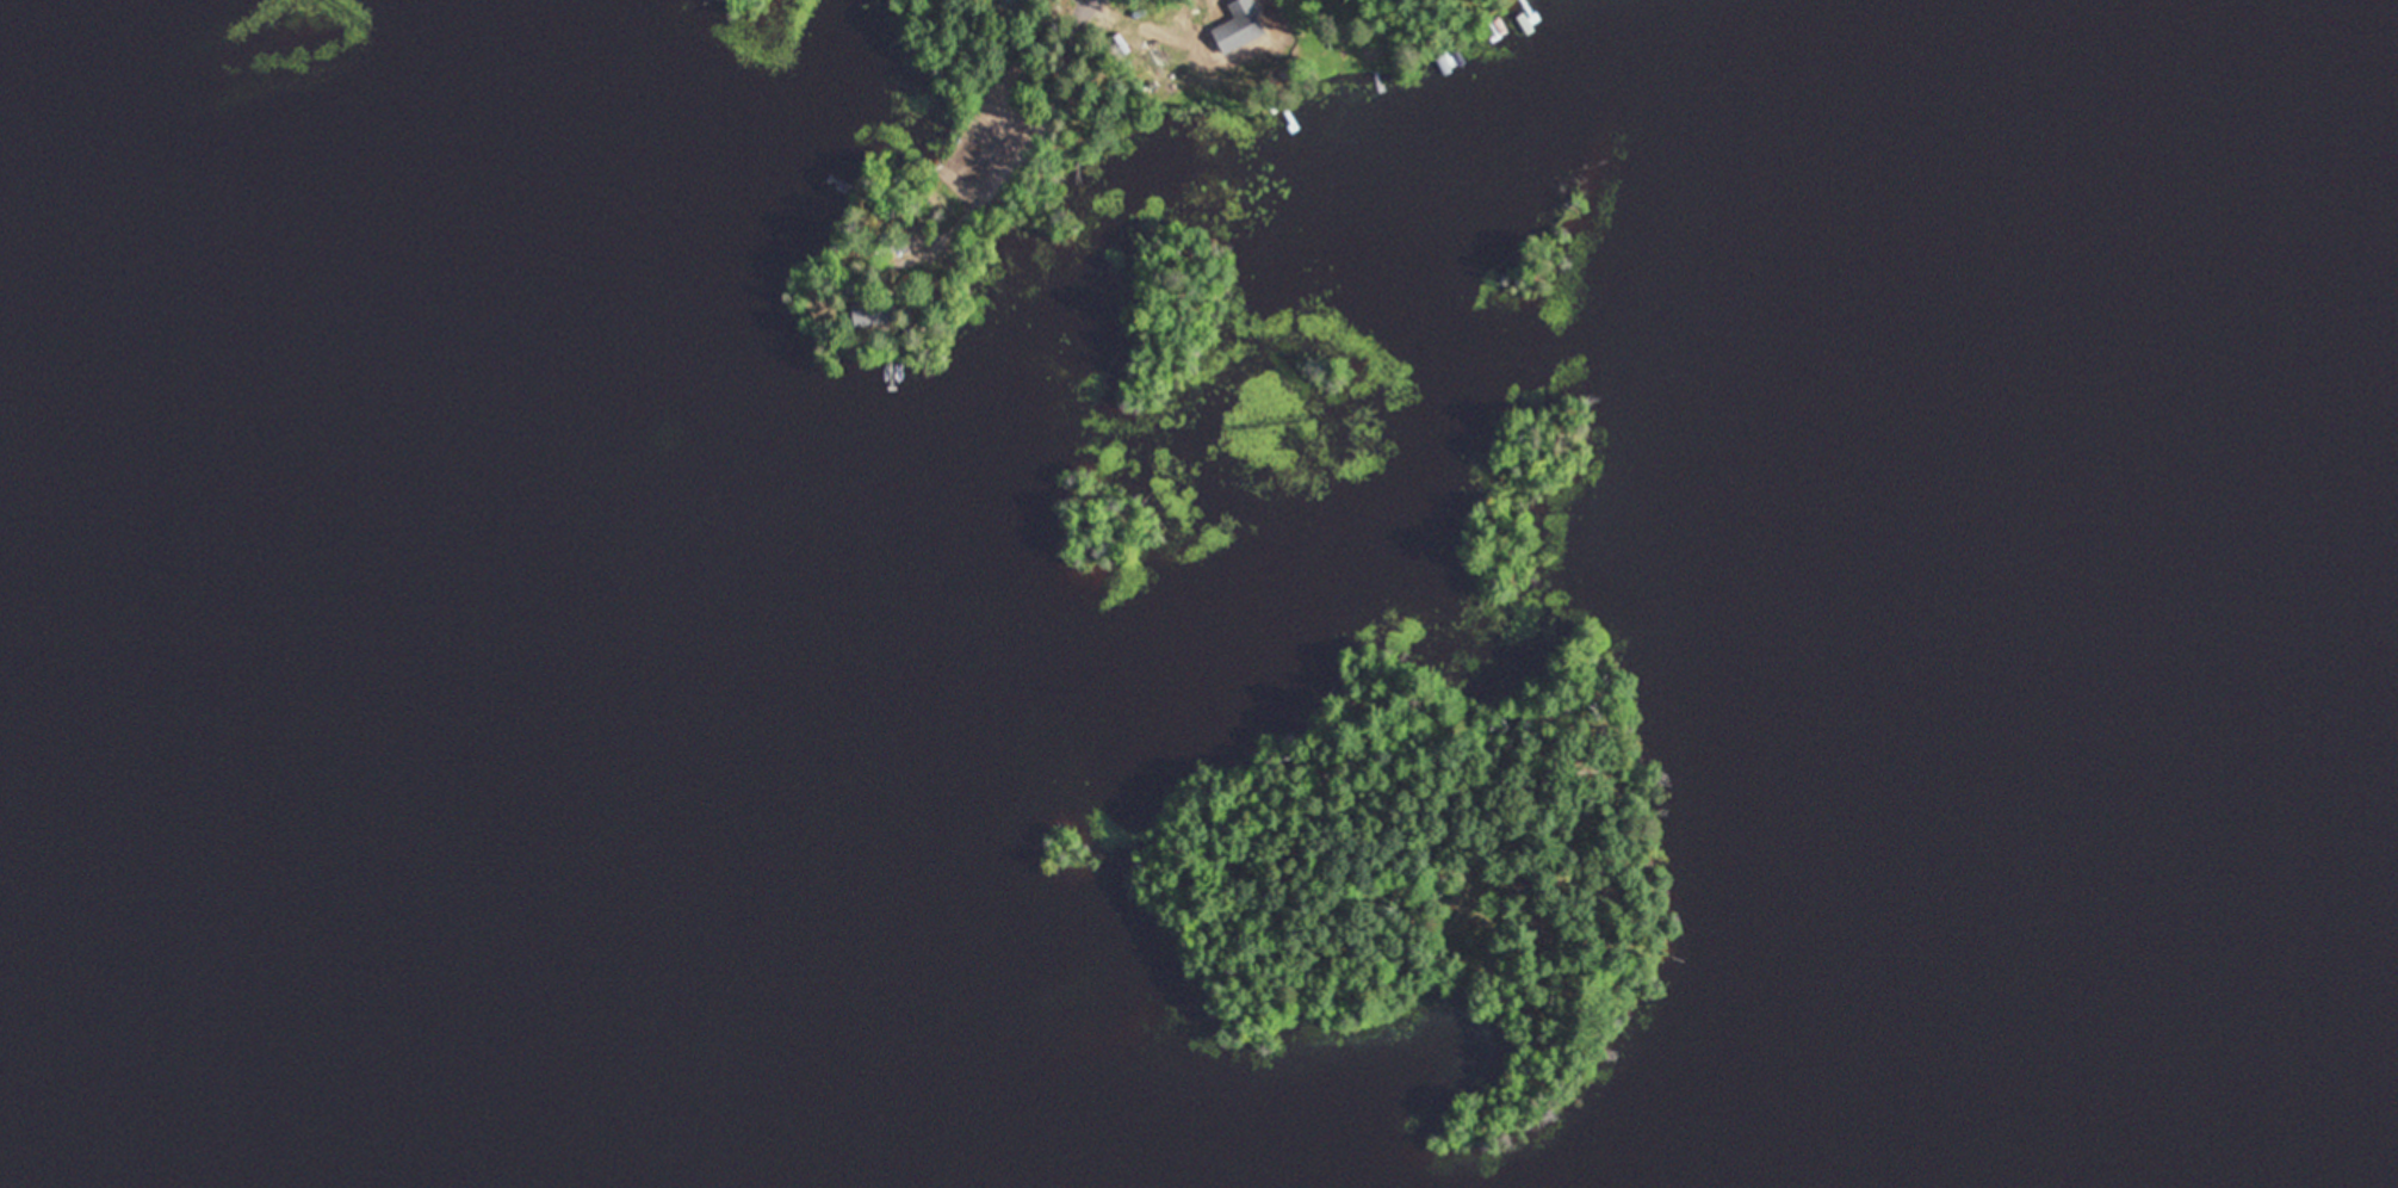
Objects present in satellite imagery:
road: (1023, 132)
building: (872, 314)
river: (2324, 421)
building: (1542, 926)
river: (141, 1035)
river: (2391, 1172)

